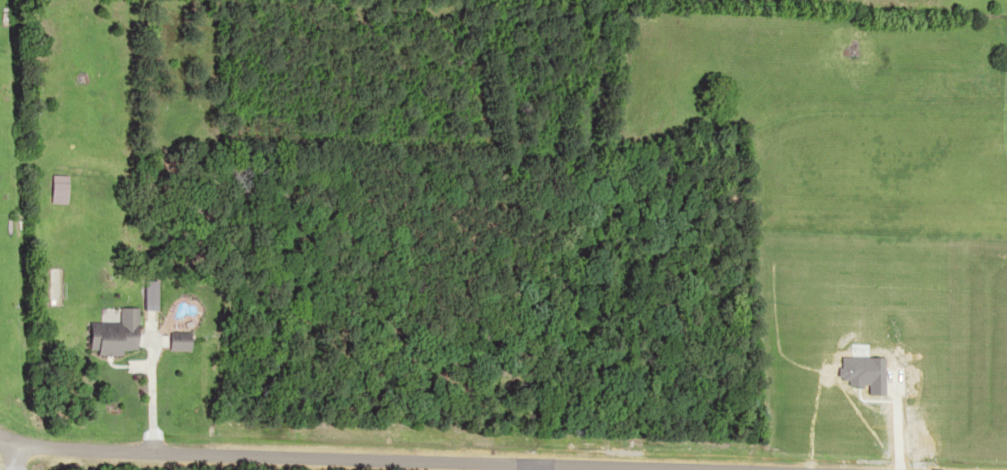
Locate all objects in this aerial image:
building: (143, 297)
building: (108, 336)
building: (172, 342)

